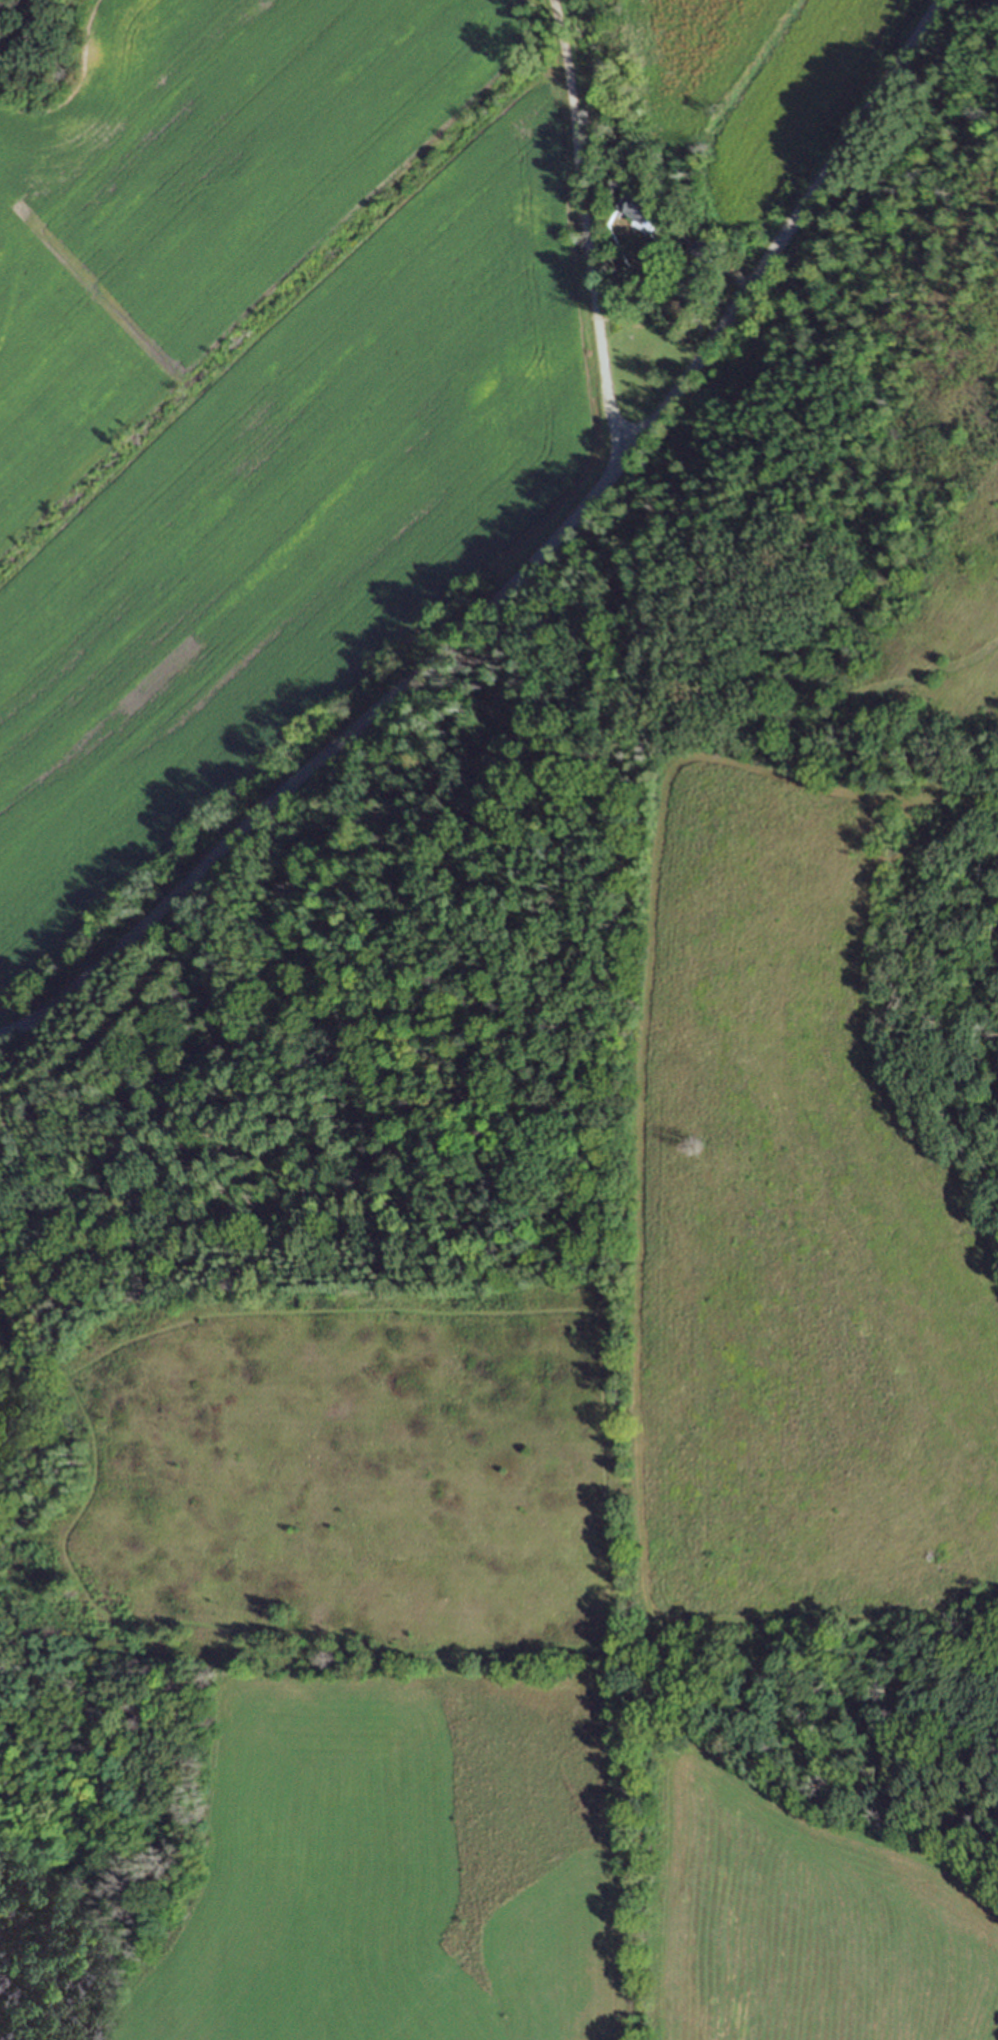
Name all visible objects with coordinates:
building: (642, 209)
road: (585, 228)
building: (705, 248)
road: (526, 568)

